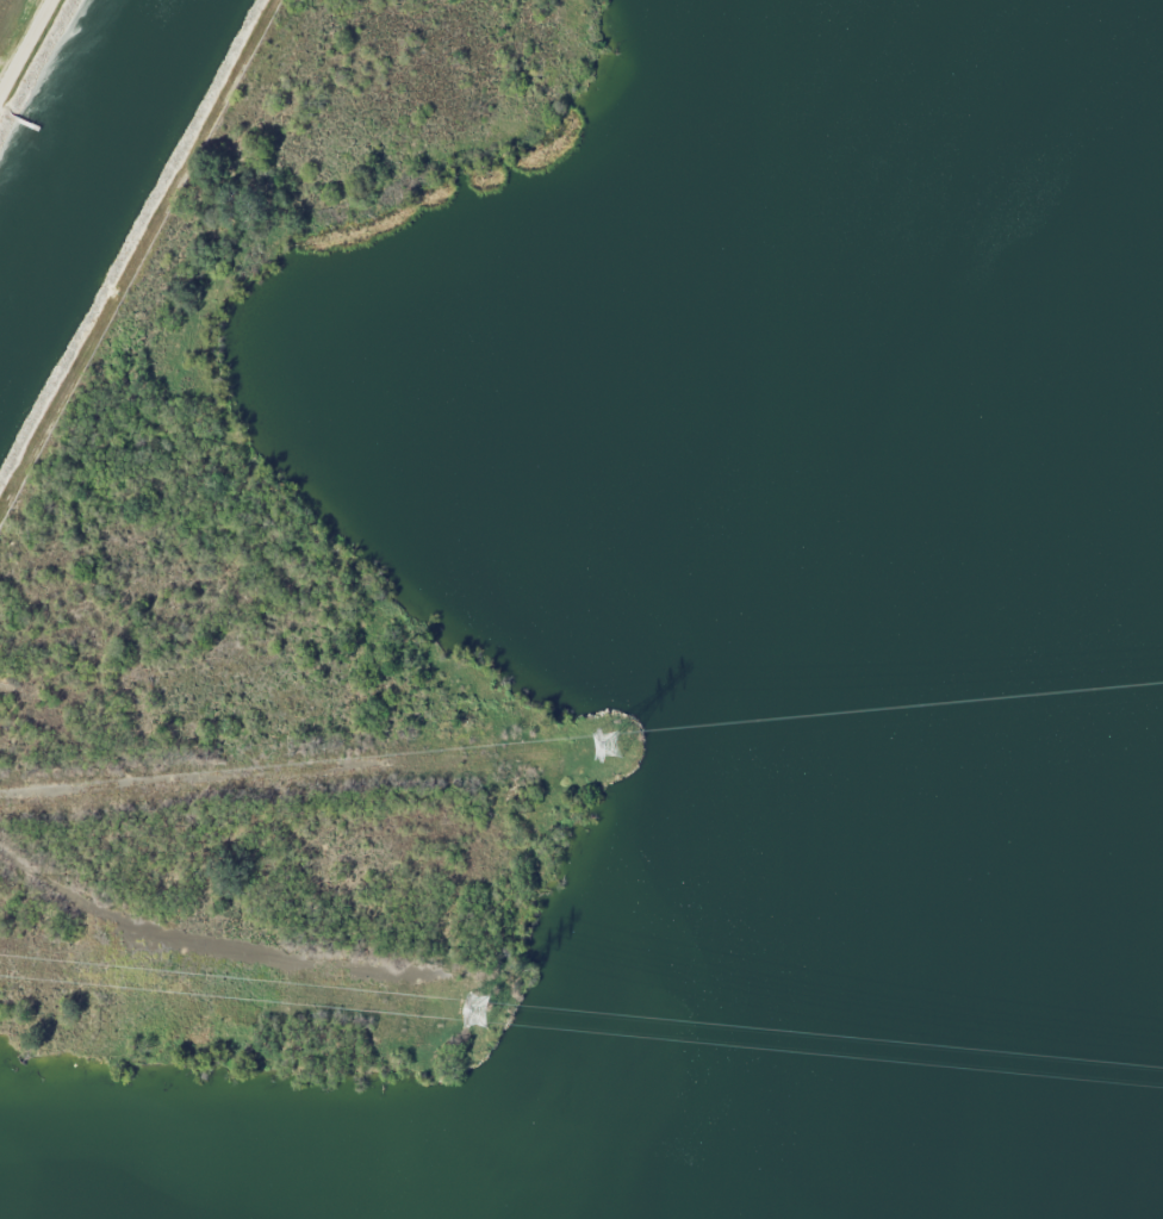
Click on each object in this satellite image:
road: (27, 51)
power tower: (608, 744)
power tower: (479, 1012)

